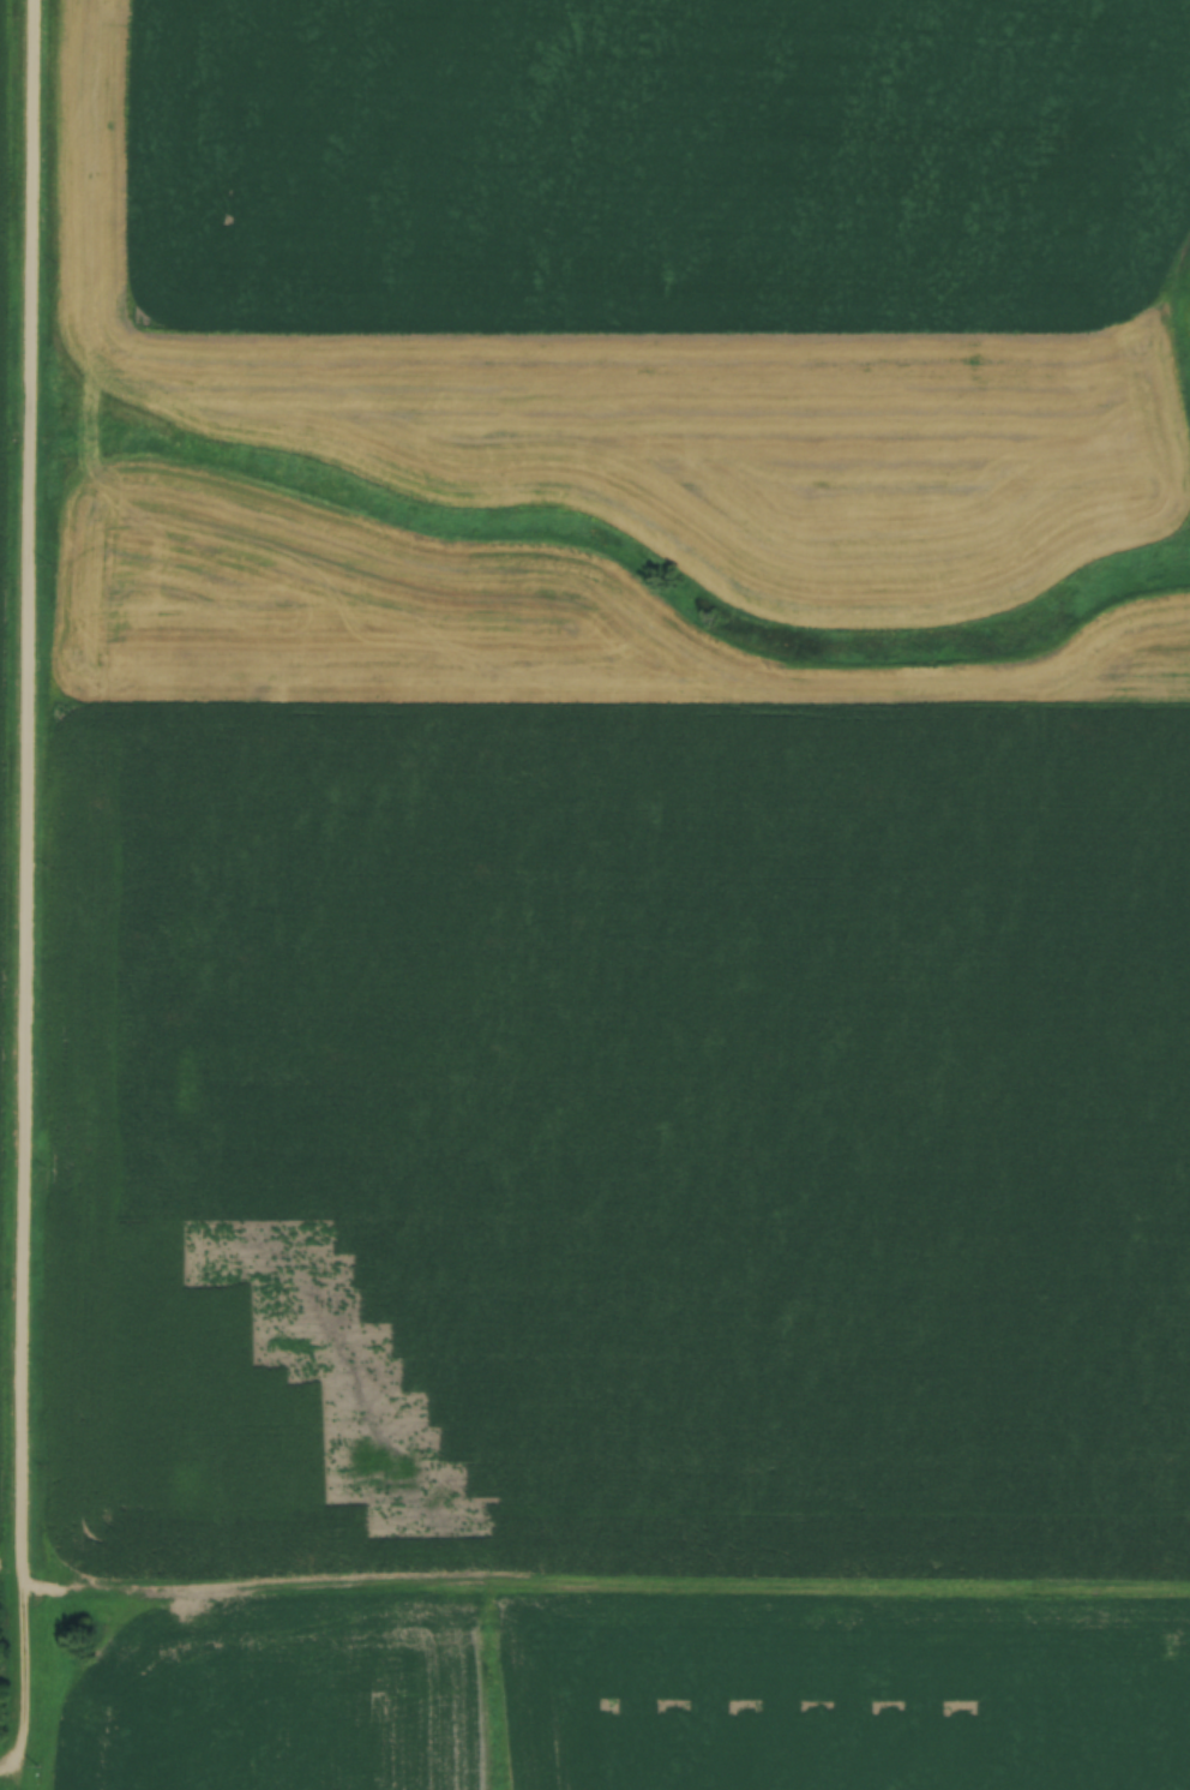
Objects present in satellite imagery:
road: (29, 891)

